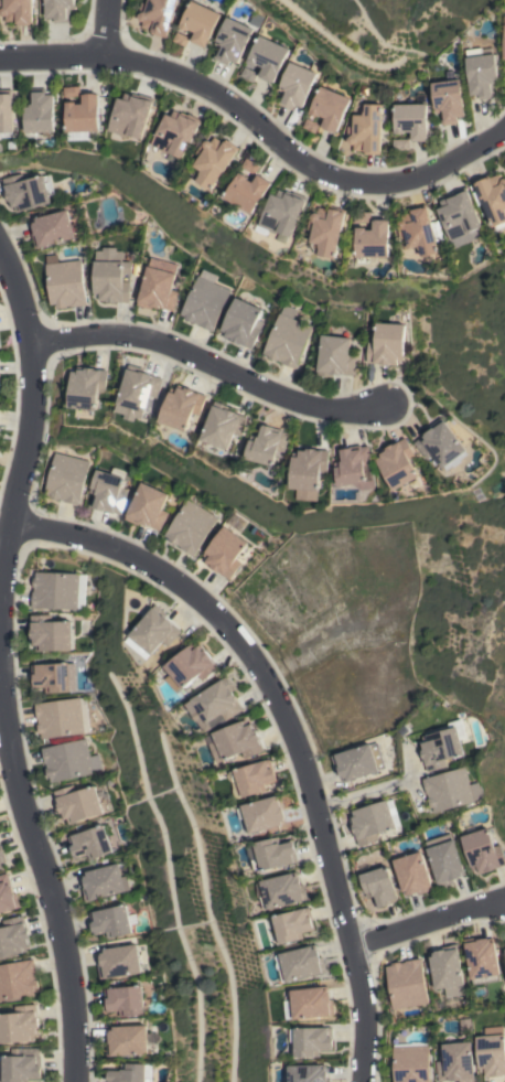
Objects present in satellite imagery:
building: (58, 10)
building: (17, 11)
building: (157, 15)
building: (504, 19)
building: (200, 22)
road: (105, 28)
building: (232, 41)
building: (504, 41)
building: (268, 57)
building: (481, 73)
building: (296, 86)
building: (448, 99)
building: (330, 107)
building: (40, 111)
building: (6, 114)
building: (83, 117)
building: (130, 117)
building: (411, 120)
road: (258, 126)
building: (309, 126)
building: (366, 130)
building: (176, 132)
building: (214, 160)
building: (251, 167)
building: (28, 191)
building: (248, 191)
building: (492, 197)
building: (283, 212)
building: (363, 216)
building: (459, 217)
building: (52, 228)
building: (326, 229)
building: (418, 229)
building: (373, 242)
building: (110, 276)
building: (65, 283)
building: (158, 289)
building: (205, 302)
building: (241, 322)
building: (287, 338)
building: (386, 344)
building: (335, 356)
road: (212, 365)
building: (86, 387)
building: (138, 392)
building: (182, 406)
road: (30, 419)
building: (223, 425)
building: (267, 443)
building: (439, 443)
building: (397, 463)
building: (354, 467)
building: (309, 472)
building: (66, 476)
building: (107, 490)
road: (6, 503)
building: (147, 506)
building: (190, 526)
building: (224, 553)
building: (58, 590)
building: (155, 630)
building: (50, 633)
building: (192, 665)
building: (51, 676)
building: (215, 705)
building: (62, 717)
road: (289, 727)
building: (236, 741)
building: (443, 744)
building: (68, 760)
building: (358, 761)
building: (251, 779)
building: (451, 790)
road: (374, 791)
building: (77, 803)
building: (264, 813)
building: (373, 821)
building: (90, 842)
building: (482, 848)
building: (273, 853)
building: (1, 856)
road: (37, 858)
building: (445, 861)
building: (412, 874)
building: (105, 880)
building: (379, 886)
building: (281, 890)
building: (8, 894)
building: (110, 921)
building: (292, 924)
road: (427, 925)
building: (14, 936)
building: (504, 946)
building: (482, 960)
building: (118, 961)
building: (300, 963)
building: (447, 969)
building: (18, 979)
building: (407, 983)
building: (123, 1000)
building: (310, 1003)
building: (20, 1024)
building: (464, 1026)
building: (127, 1040)
building: (312, 1040)
building: (491, 1054)
building: (410, 1062)
building: (455, 1062)
building: (23, 1065)
building: (130, 1072)
building: (309, 1073)

